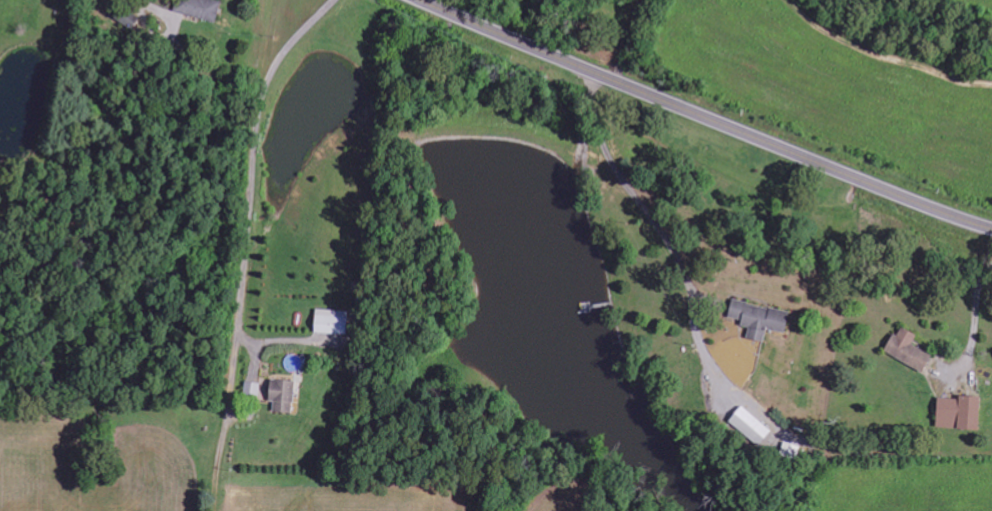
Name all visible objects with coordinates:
building: (199, 8)
road: (706, 117)
road: (253, 254)
building: (759, 318)
building: (331, 321)
building: (907, 349)
building: (253, 390)
building: (282, 394)
building: (958, 412)
building: (750, 425)

